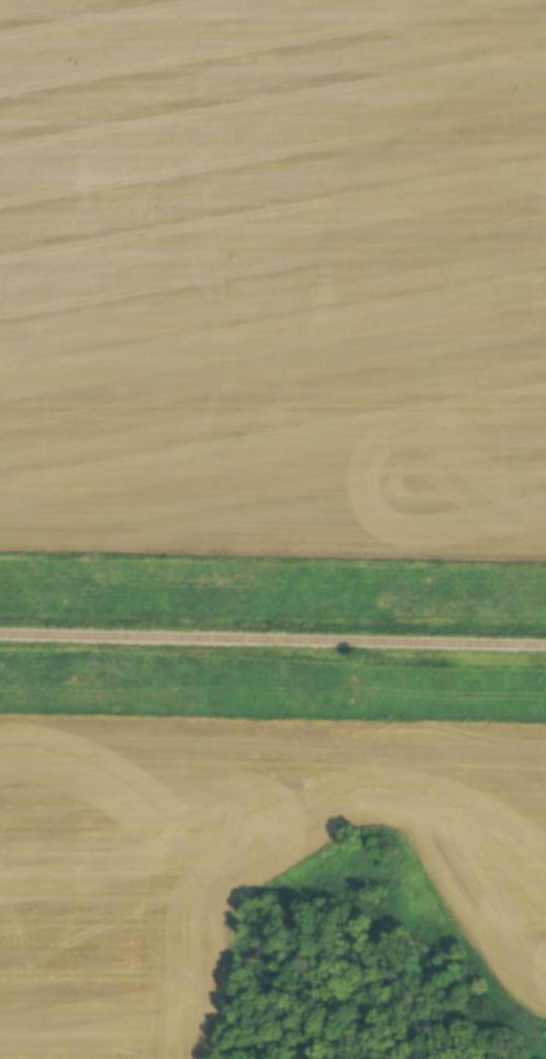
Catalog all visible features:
railway: (272, 642)

